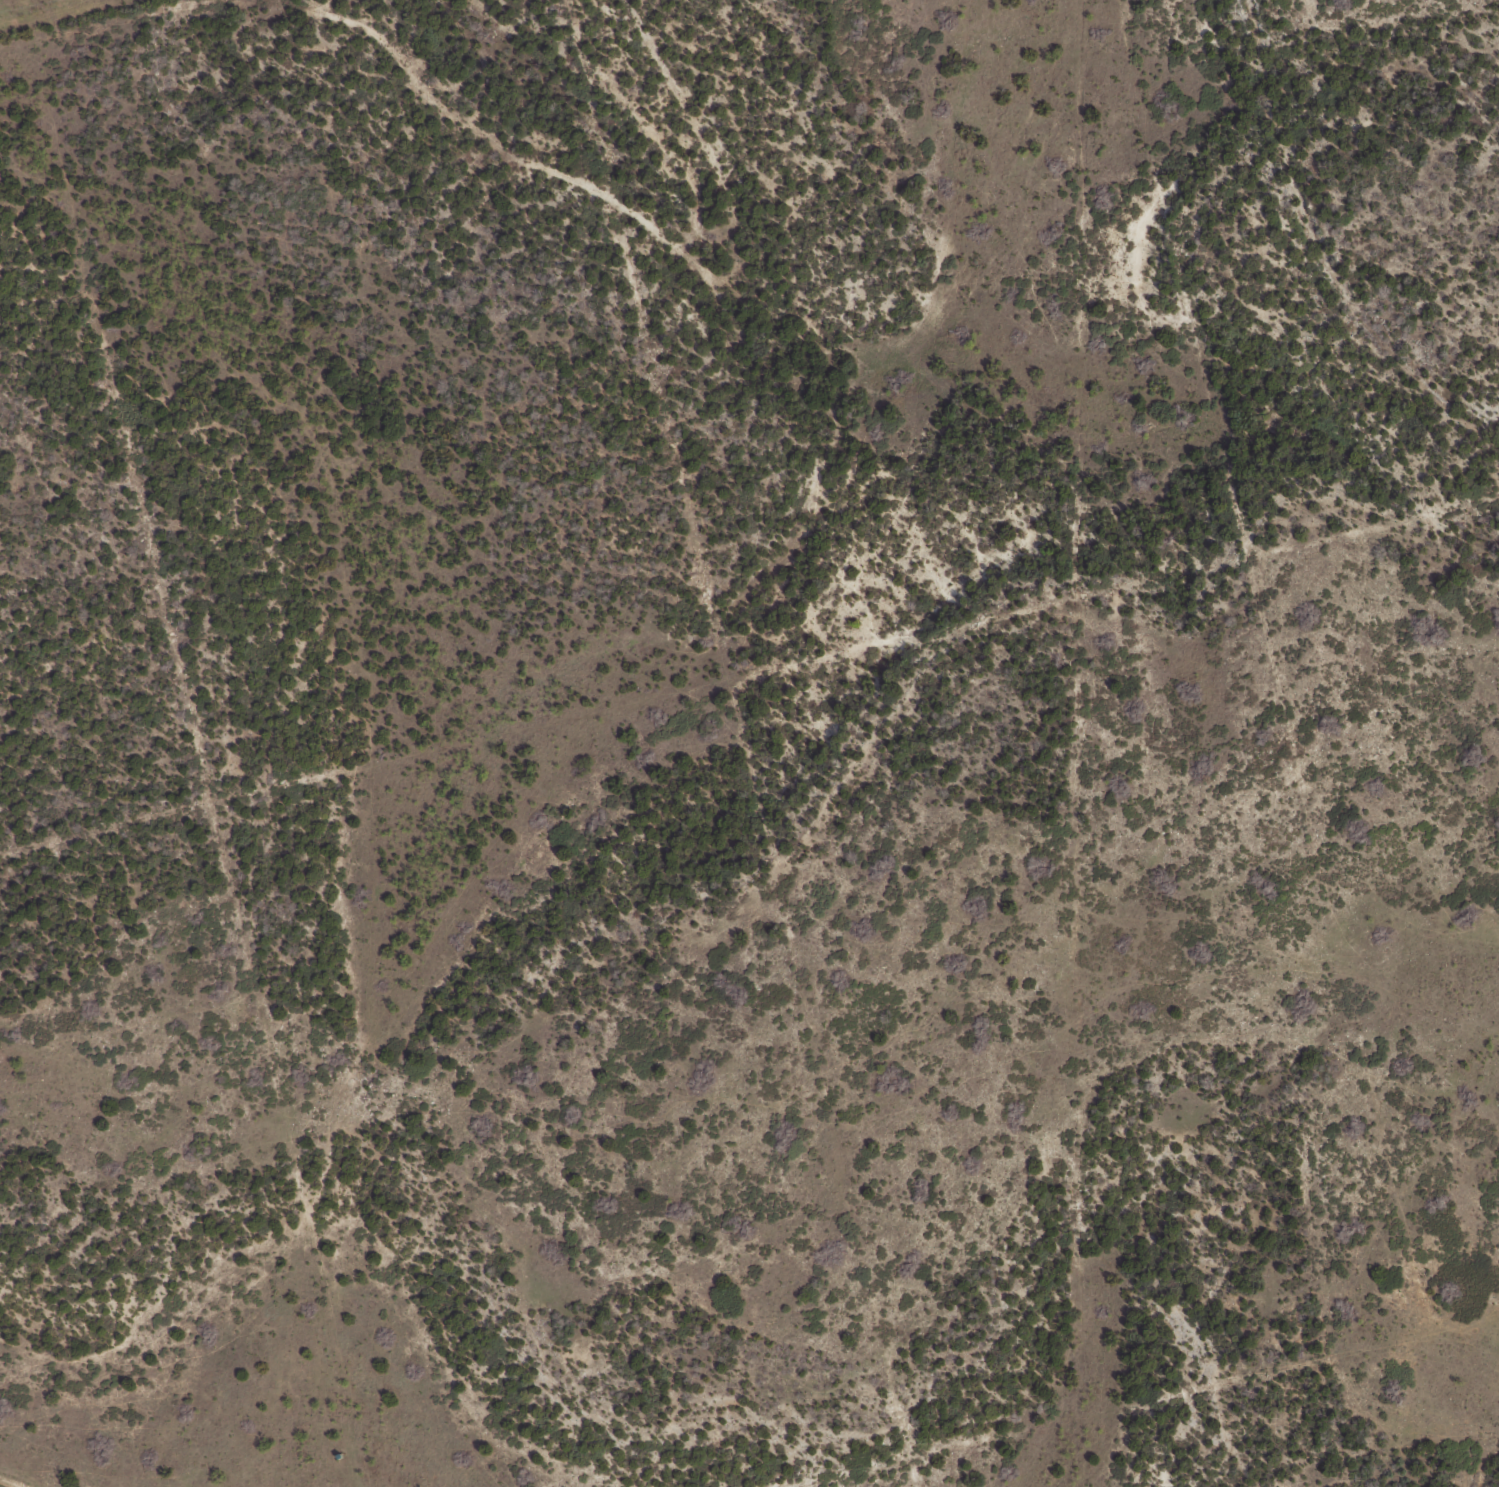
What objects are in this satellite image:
road: (772, 1244)
road: (16, 1480)

